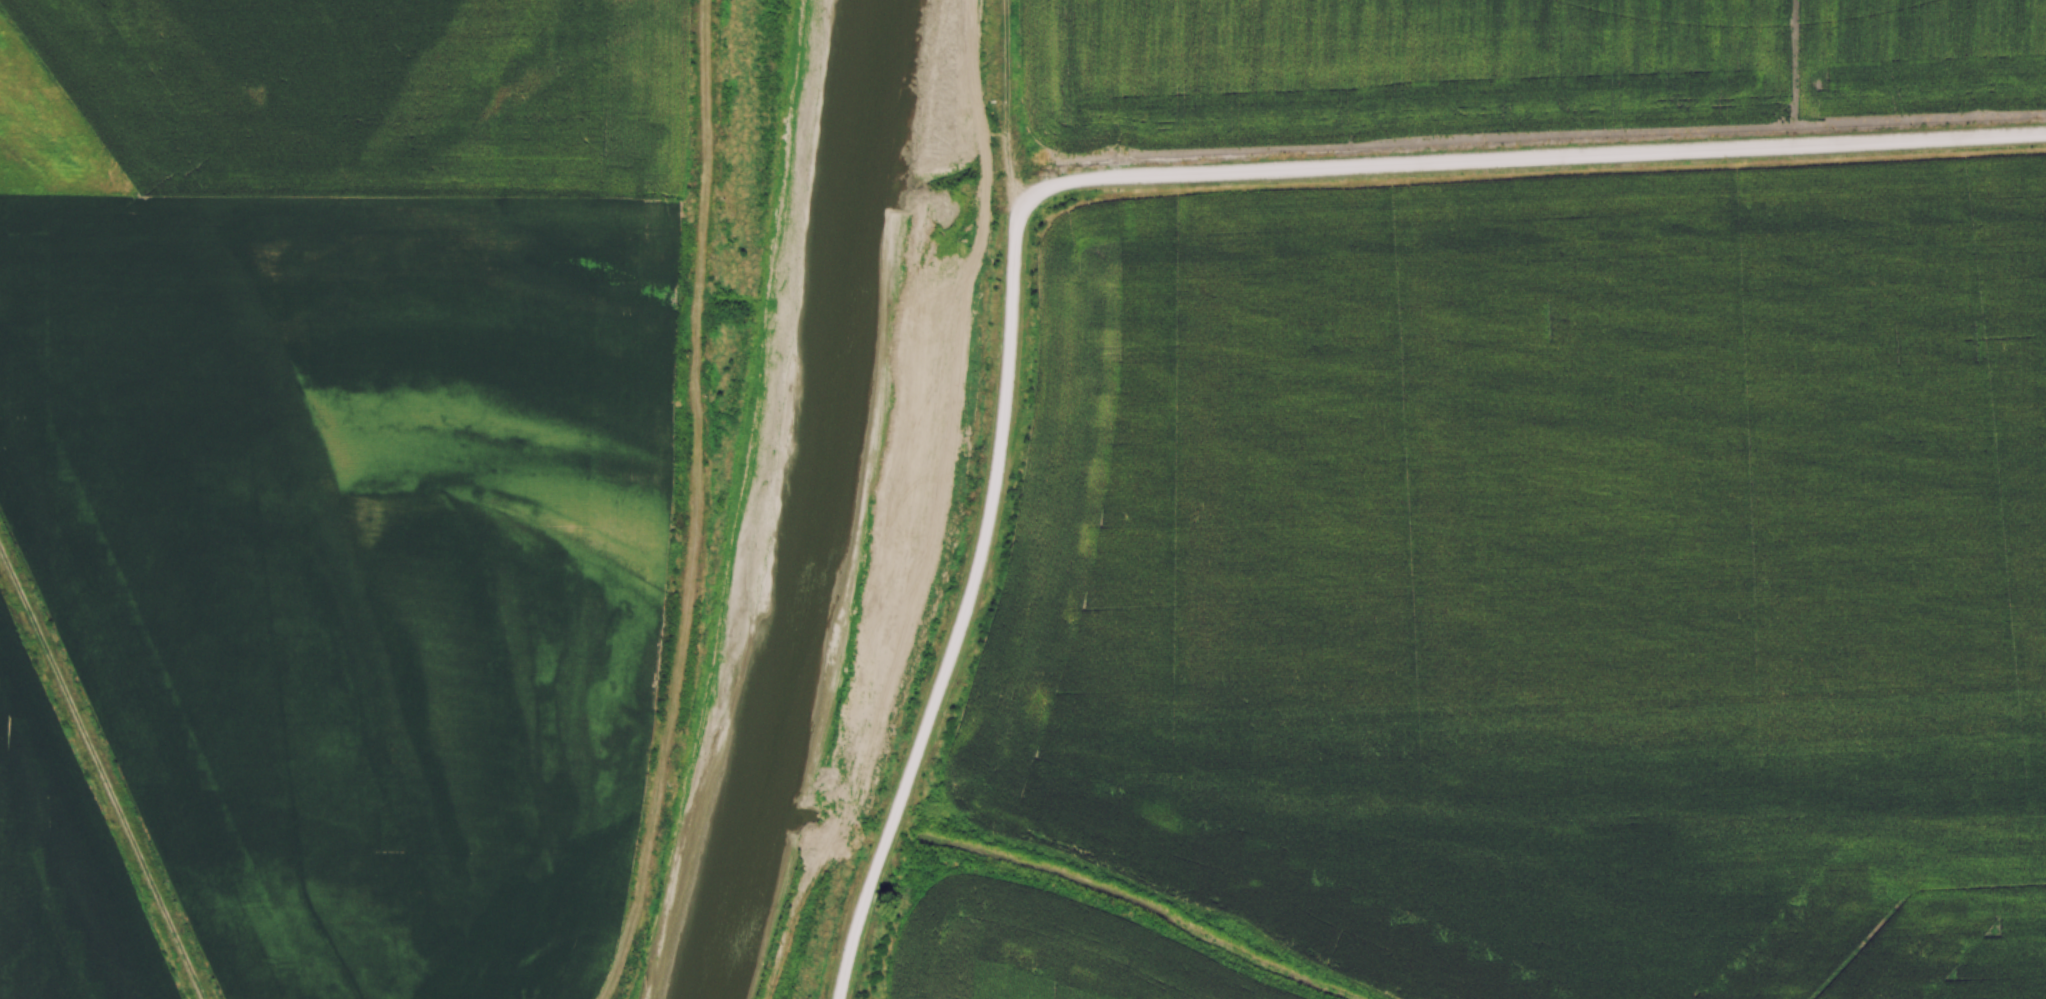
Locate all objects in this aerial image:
road: (1122, 179)
river: (806, 504)
road: (102, 773)
crop: (1035, 958)

